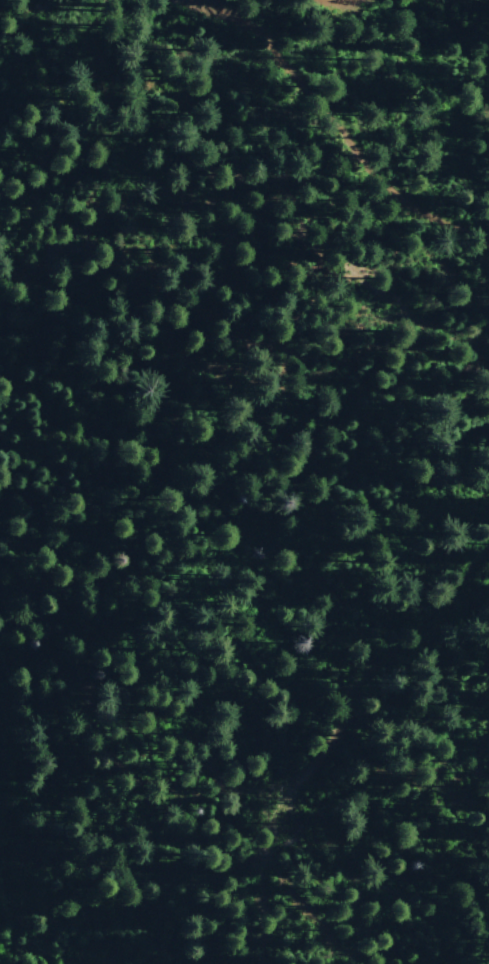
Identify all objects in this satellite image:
road: (333, 1)
road: (344, 135)

